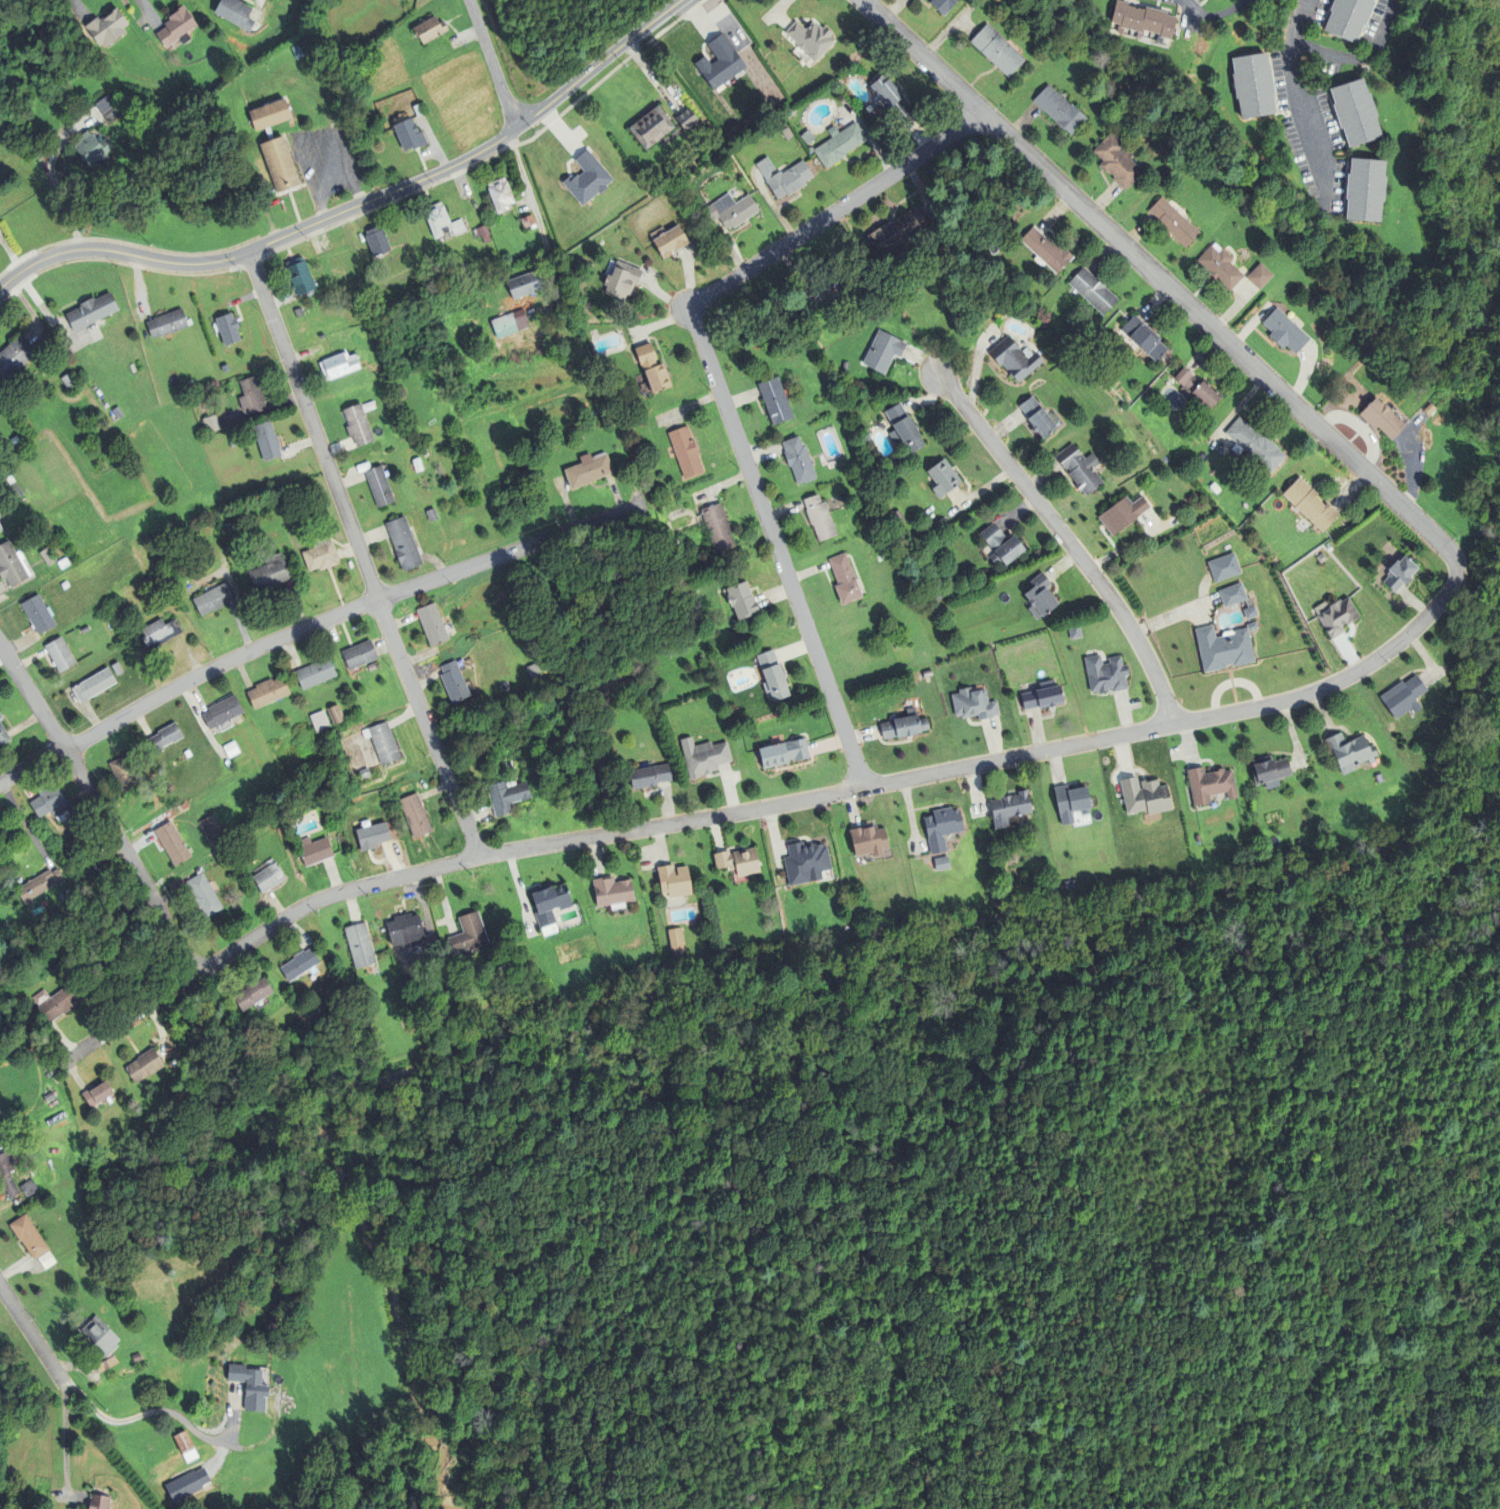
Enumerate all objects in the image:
building: (943, 5)
building: (234, 12)
building: (1347, 18)
building: (1143, 20)
building: (106, 26)
building: (176, 26)
building: (429, 28)
building: (810, 40)
building: (997, 51)
road: (1358, 59)
road: (599, 62)
road: (494, 63)
building: (719, 64)
building: (1252, 85)
road: (1293, 91)
building: (890, 98)
building: (110, 110)
building: (416, 110)
building: (1059, 110)
building: (1354, 112)
building: (267, 114)
building: (686, 119)
building: (651, 128)
building: (409, 134)
building: (807, 138)
building: (839, 145)
building: (91, 148)
building: (1117, 161)
building: (277, 164)
parking lot: (325, 164)
building: (784, 178)
building: (587, 179)
building: (1363, 188)
road: (388, 195)
building: (500, 196)
road: (534, 207)
road: (836, 209)
building: (731, 211)
building: (437, 221)
building: (1174, 223)
building: (458, 227)
building: (482, 232)
building: (896, 232)
building: (377, 240)
building: (669, 242)
building: (1047, 251)
road: (120, 253)
building: (1220, 268)
building: (368, 271)
building: (831, 276)
building: (299, 277)
building: (1260, 277)
building: (622, 281)
road: (1159, 281)
building: (525, 284)
building: (1093, 292)
building: (90, 311)
building: (298, 313)
building: (166, 323)
building: (510, 325)
building: (227, 328)
building: (1285, 332)
building: (321, 337)
building: (1146, 339)
building: (883, 353)
building: (14, 356)
building: (1014, 360)
building: (338, 366)
building: (225, 368)
building: (652, 370)
building: (69, 381)
building: (1197, 389)
building: (98, 392)
building: (401, 393)
building: (251, 395)
building: (199, 398)
building: (775, 402)
building: (1430, 410)
building: (117, 412)
building: (1037, 418)
building: (1382, 420)
building: (211, 423)
building: (358, 423)
road: (1360, 428)
building: (903, 429)
building: (266, 440)
building: (231, 442)
building: (1255, 445)
building: (425, 452)
building: (686, 453)
building: (798, 461)
building: (418, 466)
building: (1080, 469)
building: (588, 472)
road: (1414, 472)
building: (943, 479)
building: (14, 486)
building: (379, 487)
building: (1311, 505)
building: (431, 515)
building: (1123, 515)
building: (819, 518)
building: (230, 525)
building: (0, 529)
building: (717, 529)
road: (1491, 536)
road: (1068, 542)
building: (403, 545)
building: (1001, 546)
building: (158, 548)
road: (777, 548)
road: (1470, 551)
building: (320, 552)
road: (360, 555)
building: (46, 556)
building: (62, 563)
building: (12, 565)
building: (166, 565)
building: (1224, 568)
building: (269, 570)
building: (1400, 575)
building: (844, 580)
building: (64, 585)
building: (1233, 596)
building: (213, 597)
building: (1040, 598)
building: (742, 601)
building: (1251, 614)
building: (37, 615)
building: (1340, 617)
road: (310, 625)
building: (432, 626)
building: (84, 629)
building: (158, 631)
building: (1075, 633)
building: (1225, 649)
building: (359, 652)
building: (59, 654)
building: (116, 667)
building: (315, 672)
building: (1106, 675)
building: (773, 677)
building: (93, 683)
building: (453, 683)
building: (267, 690)
building: (1043, 697)
building: (1404, 698)
building: (974, 705)
building: (221, 710)
building: (334, 713)
building: (0, 718)
building: (320, 718)
building: (904, 728)
building: (164, 736)
building: (3, 737)
building: (382, 741)
building: (230, 748)
building: (187, 753)
building: (1350, 753)
building: (783, 754)
building: (704, 758)
building: (123, 772)
building: (364, 772)
building: (1270, 772)
building: (649, 777)
building: (1379, 780)
building: (316, 782)
building: (1210, 786)
road: (847, 791)
building: (506, 797)
building: (1145, 797)
building: (50, 802)
building: (1070, 804)
road: (102, 805)
building: (1010, 809)
building: (415, 818)
building: (216, 827)
building: (942, 829)
building: (373, 837)
building: (171, 842)
building: (868, 842)
building: (313, 849)
building: (738, 862)
building: (75, 863)
building: (806, 864)
building: (942, 865)
building: (268, 876)
building: (674, 882)
building: (37, 885)
building: (67, 892)
building: (612, 893)
building: (203, 894)
building: (549, 906)
building: (405, 932)
building: (467, 935)
building: (675, 945)
building: (359, 947)
building: (299, 966)
building: (252, 995)
building: (55, 1005)
building: (310, 1010)
road: (130, 1019)
building: (410, 1025)
building: (144, 1067)
building: (96, 1096)
building: (10, 1170)
building: (33, 1187)
building: (33, 1235)
building: (50, 1258)
road: (30, 1334)
building: (104, 1335)
building: (139, 1357)
building: (256, 1385)
road: (150, 1415)
road: (63, 1439)
building: (181, 1444)
building: (101, 1501)

